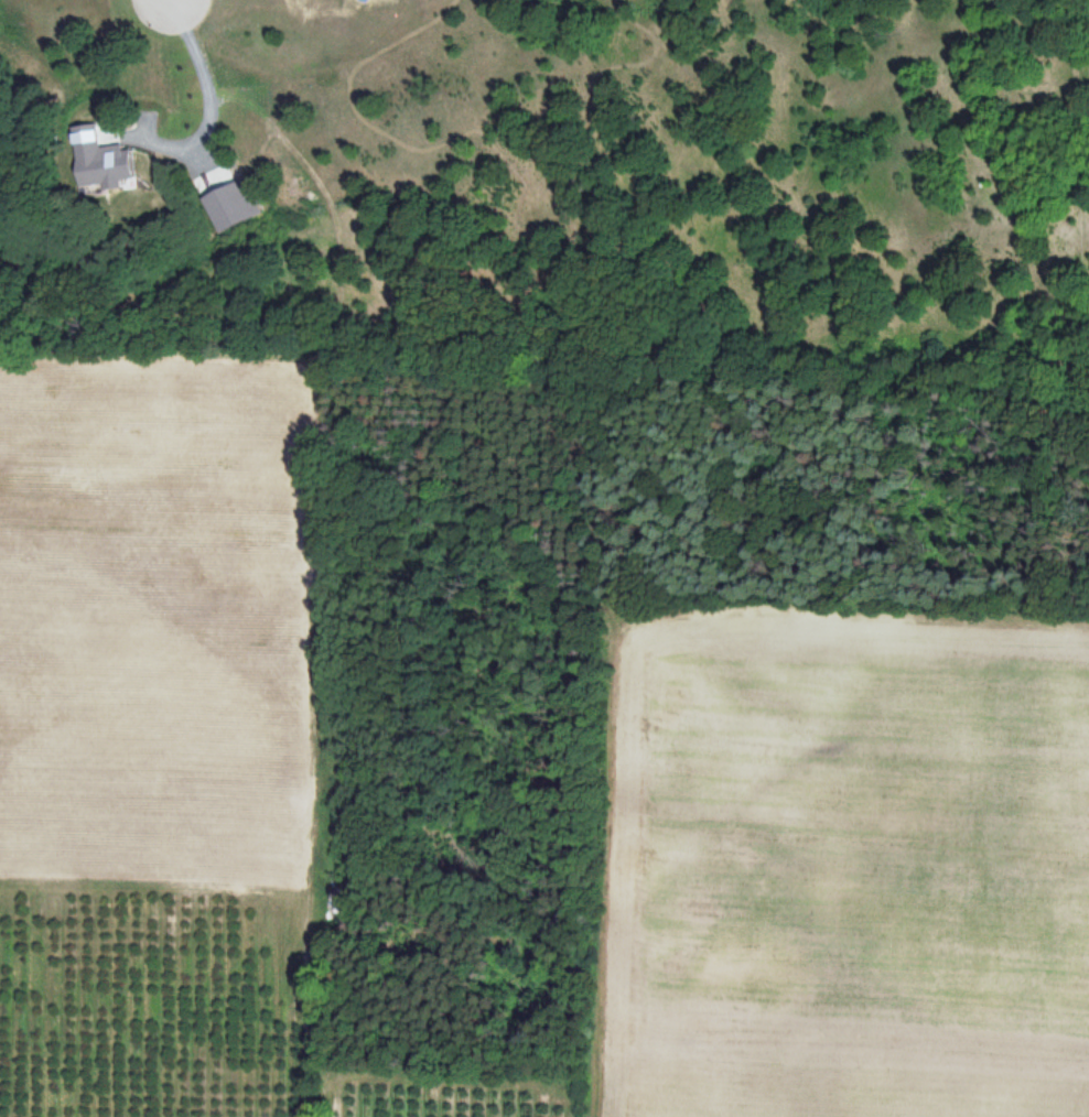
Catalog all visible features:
road: (213, 98)

